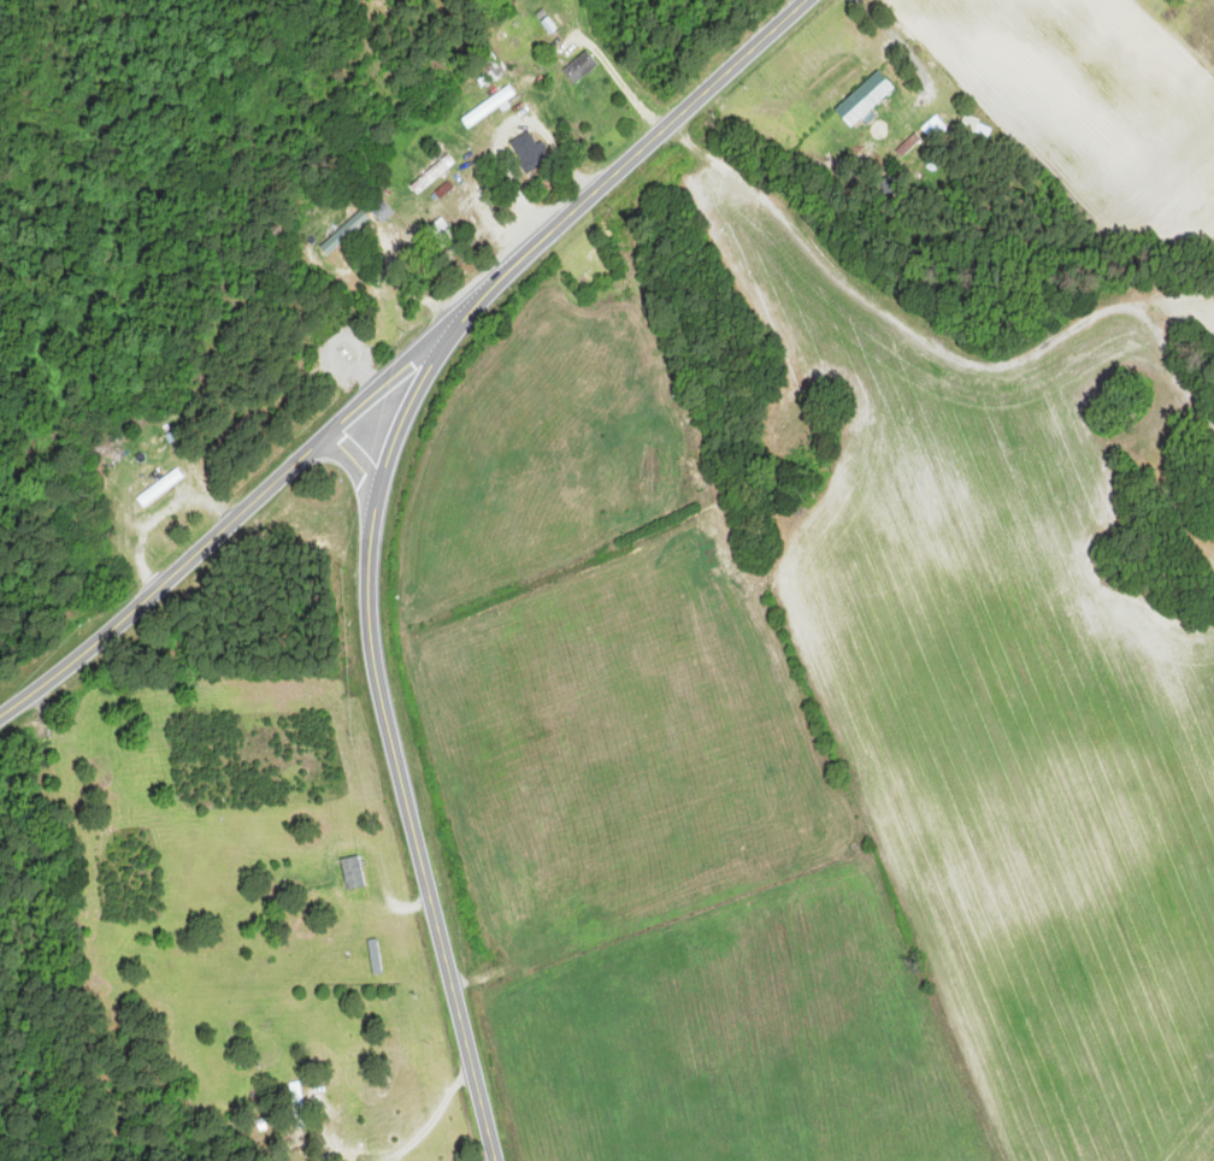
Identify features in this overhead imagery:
building: (488, 65)
building: (579, 66)
building: (865, 96)
building: (488, 106)
building: (529, 151)
building: (434, 173)
building: (383, 212)
building: (344, 232)
road: (359, 464)
building: (647, 476)
road: (376, 501)
road: (225, 531)
building: (353, 873)
building: (295, 1098)

